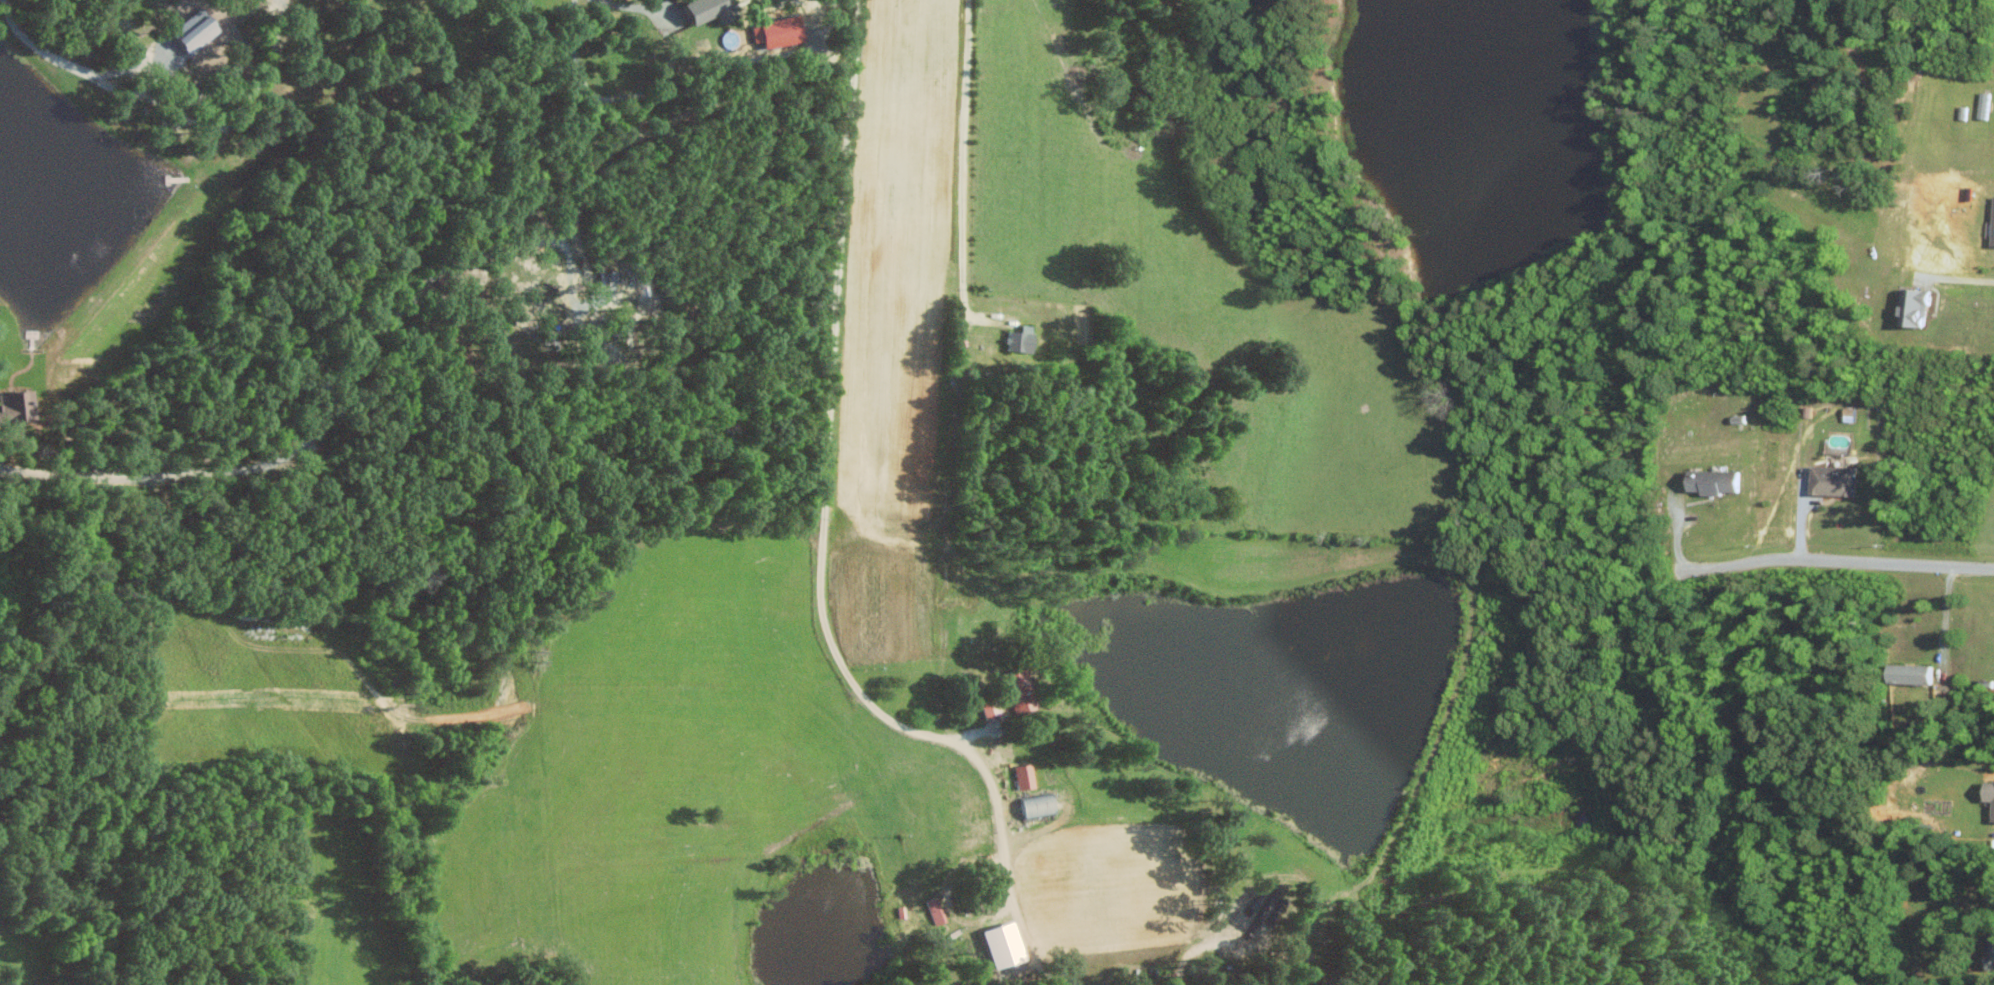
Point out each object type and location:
road: (621, 5)
building: (711, 10)
building: (200, 29)
building: (782, 31)
road: (74, 64)
road: (644, 93)
building: (1984, 104)
building: (611, 277)
road: (1959, 278)
building: (1918, 307)
building: (1024, 339)
road: (333, 403)
building: (19, 406)
road: (834, 406)
road: (965, 410)
building: (1834, 480)
building: (1715, 481)
road: (1885, 563)
road: (1700, 566)
road: (1943, 614)
building: (1917, 673)
building: (1025, 692)
building: (996, 709)
building: (1027, 777)
building: (1989, 790)
building: (1042, 805)
road: (1006, 883)
building: (939, 910)
building: (1008, 945)

